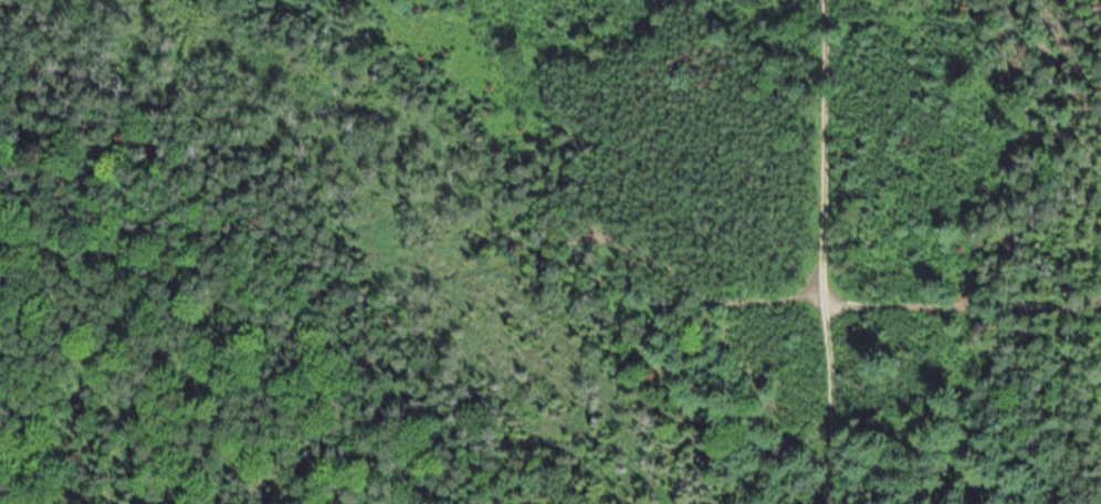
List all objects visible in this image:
road: (825, 288)
road: (829, 357)

